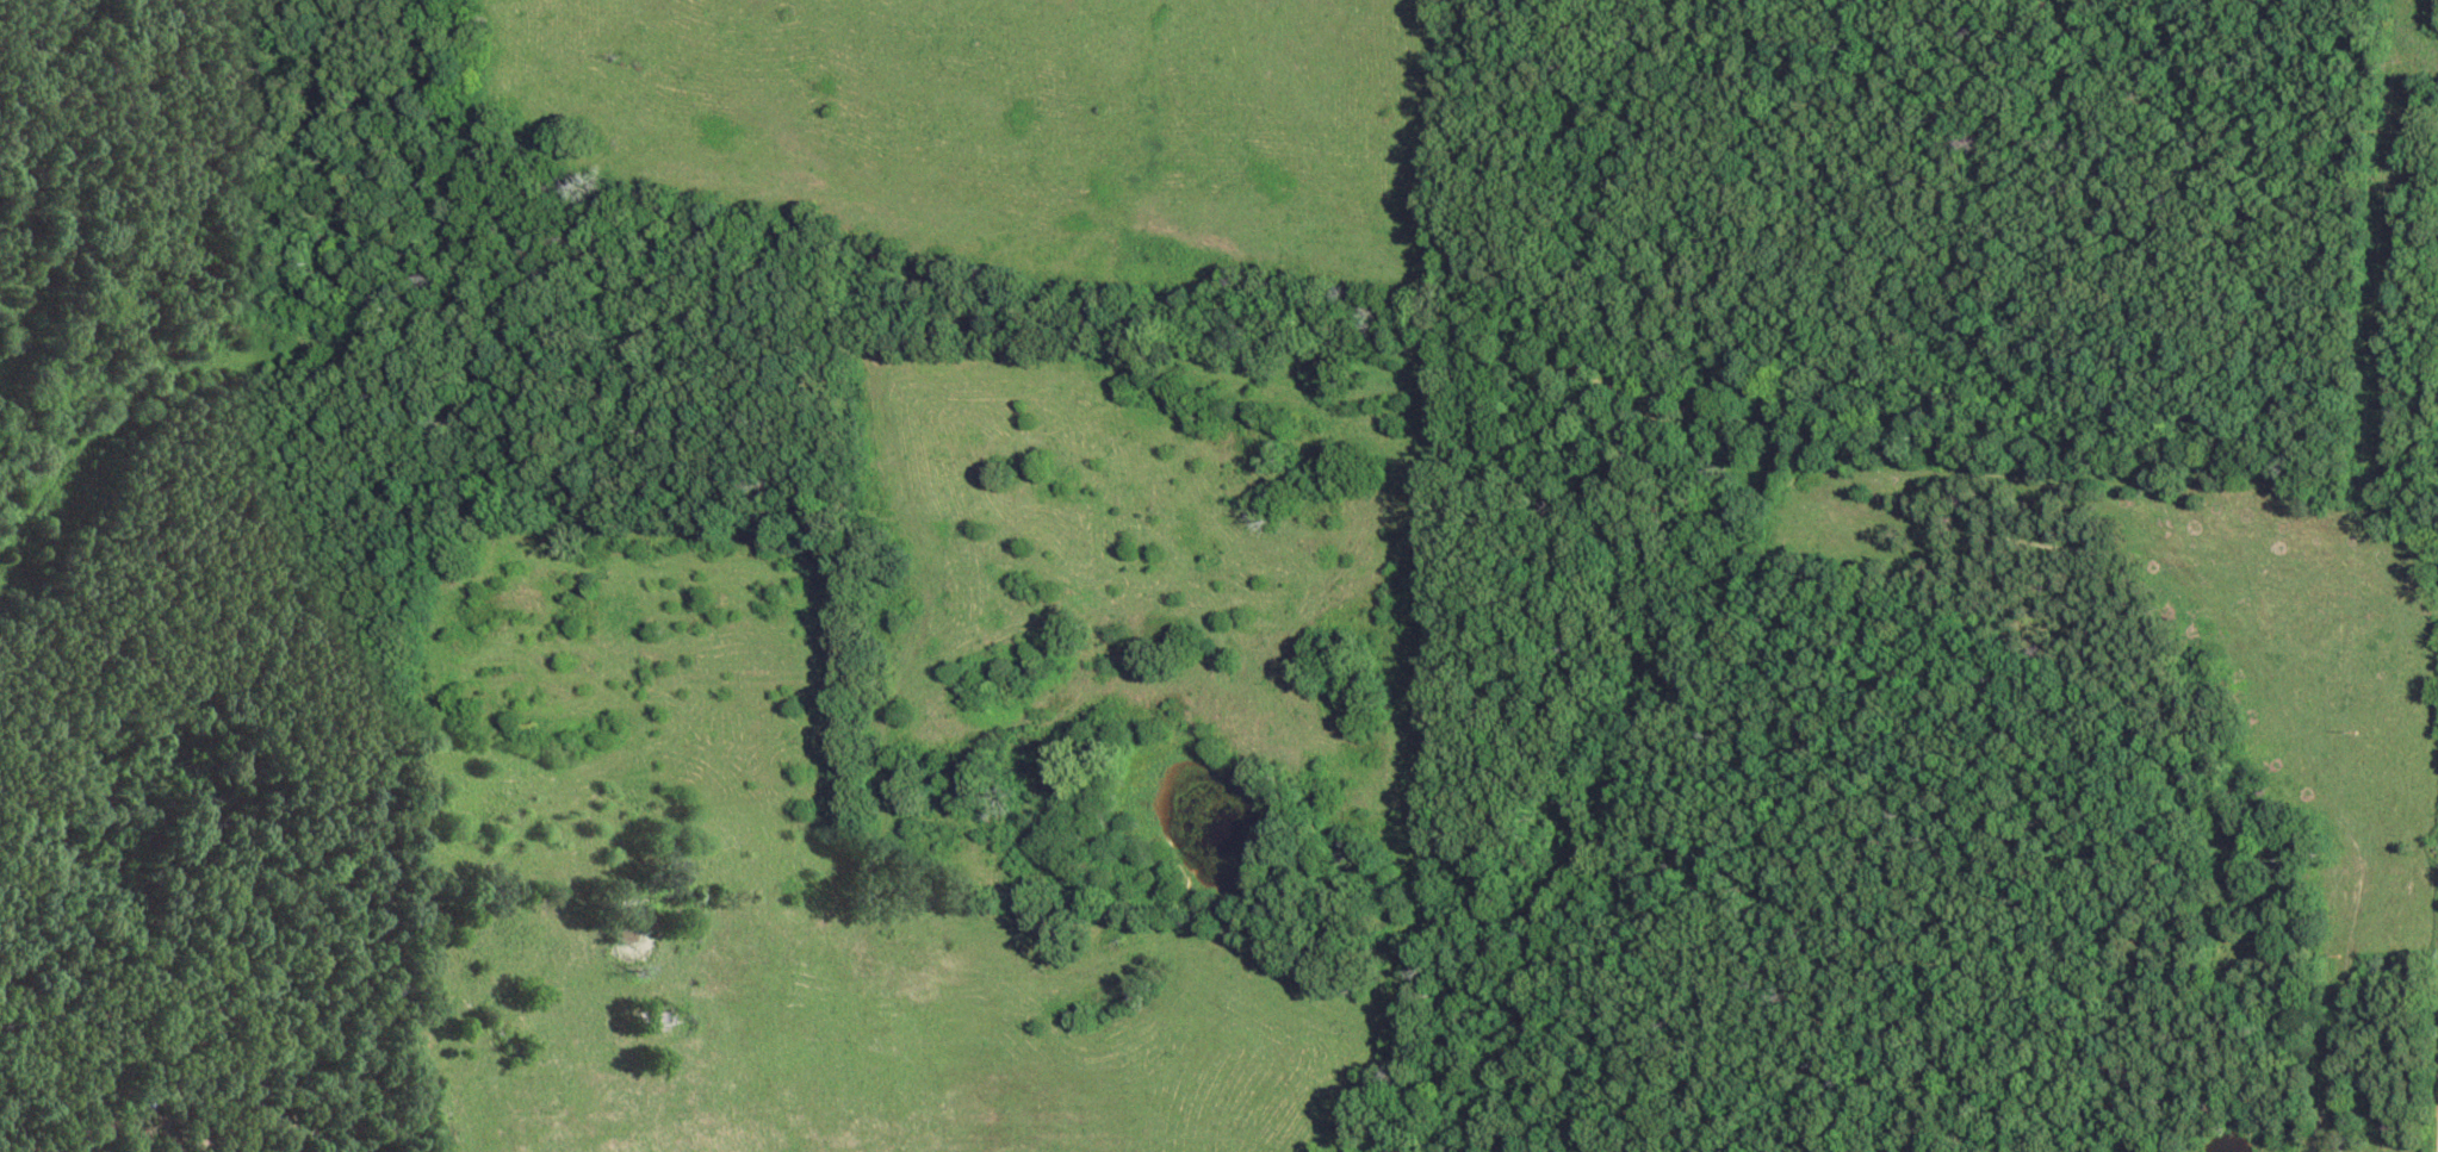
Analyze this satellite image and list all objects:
road: (2436, 1026)

